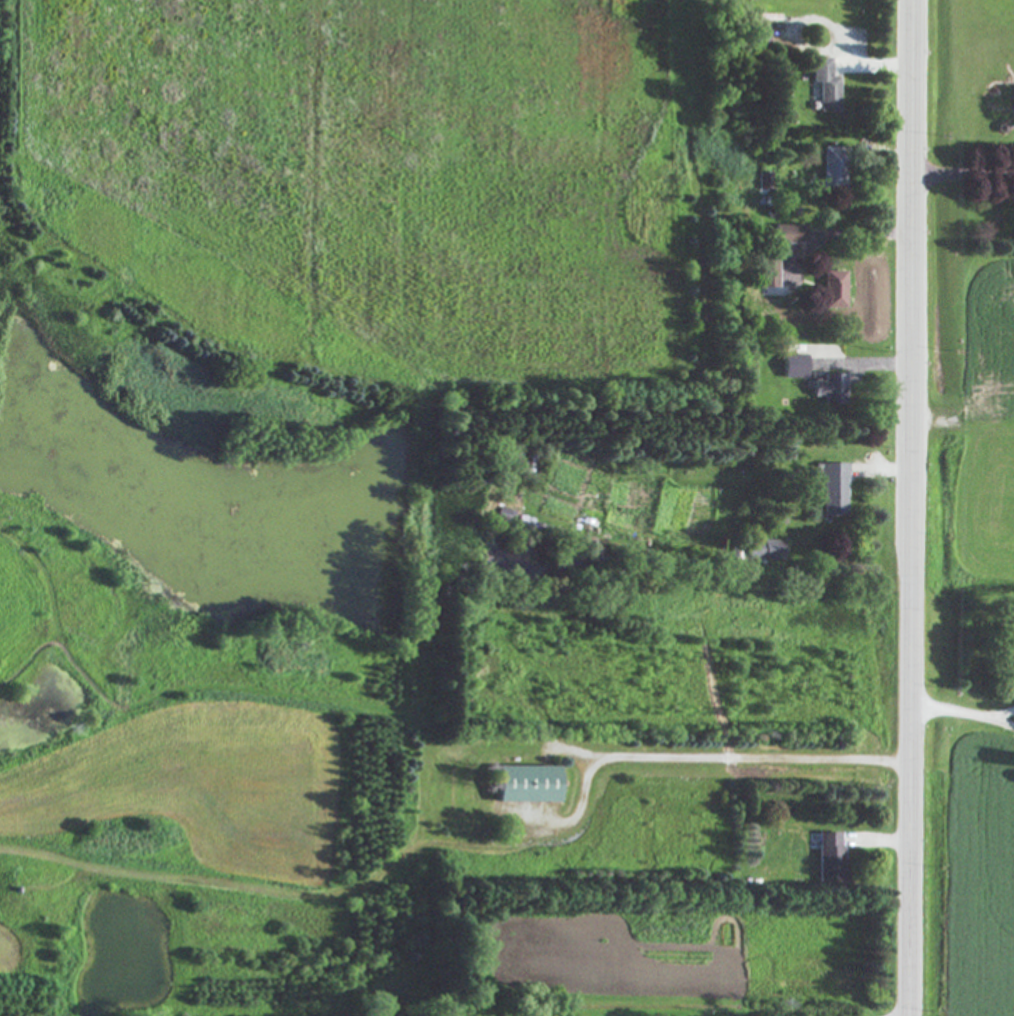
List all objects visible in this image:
building: (824, 86)
building: (832, 170)
road: (963, 170)
building: (763, 182)
building: (787, 235)
building: (767, 274)
building: (832, 291)
building: (792, 368)
building: (828, 390)
building: (830, 489)
road: (912, 508)
building: (525, 525)
building: (763, 551)
road: (953, 710)
road: (1004, 712)
road: (1004, 721)
road: (704, 756)
building: (524, 785)
building: (828, 859)
road: (906, 1015)

